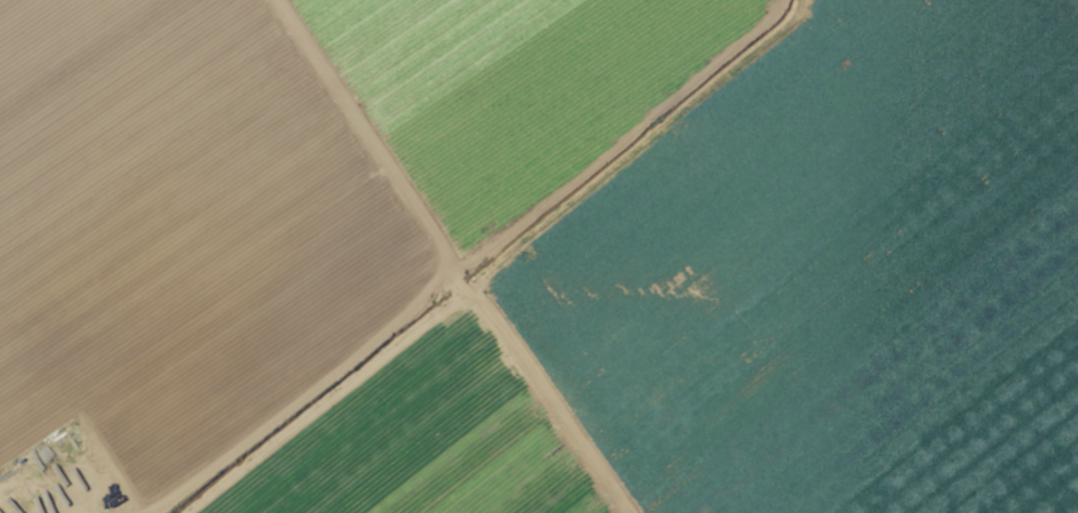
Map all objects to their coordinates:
crop: (539, 256)

